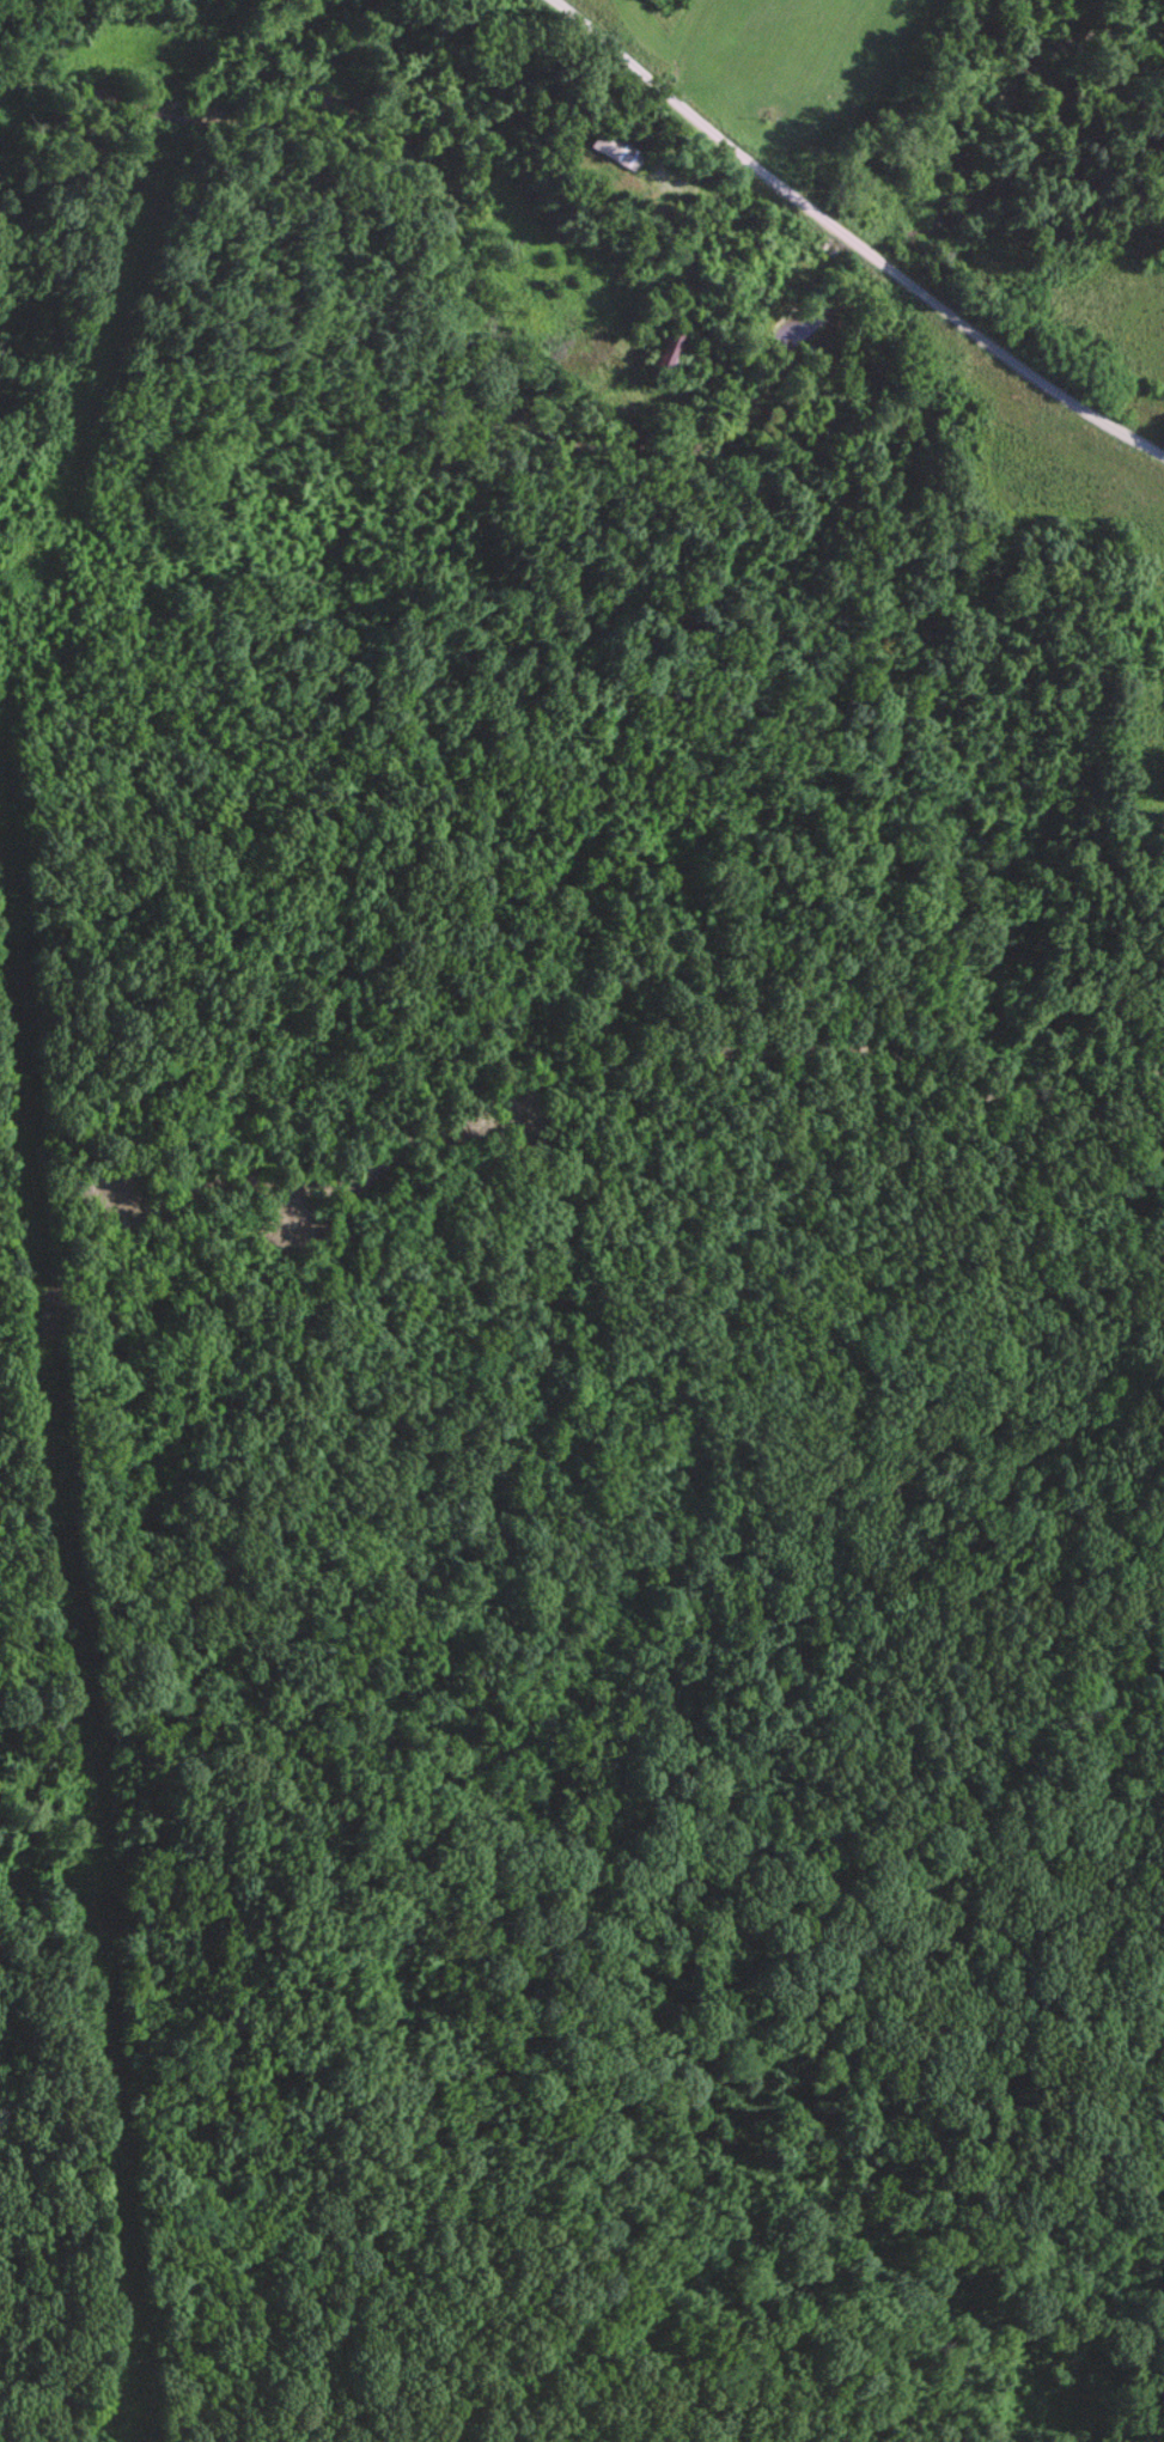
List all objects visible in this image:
road: (846, 243)
road: (774, 309)
building: (669, 351)
road: (51, 493)
road: (17, 609)
road: (278, 750)
road: (646, 1060)
road: (63, 1704)
road: (127, 2381)

